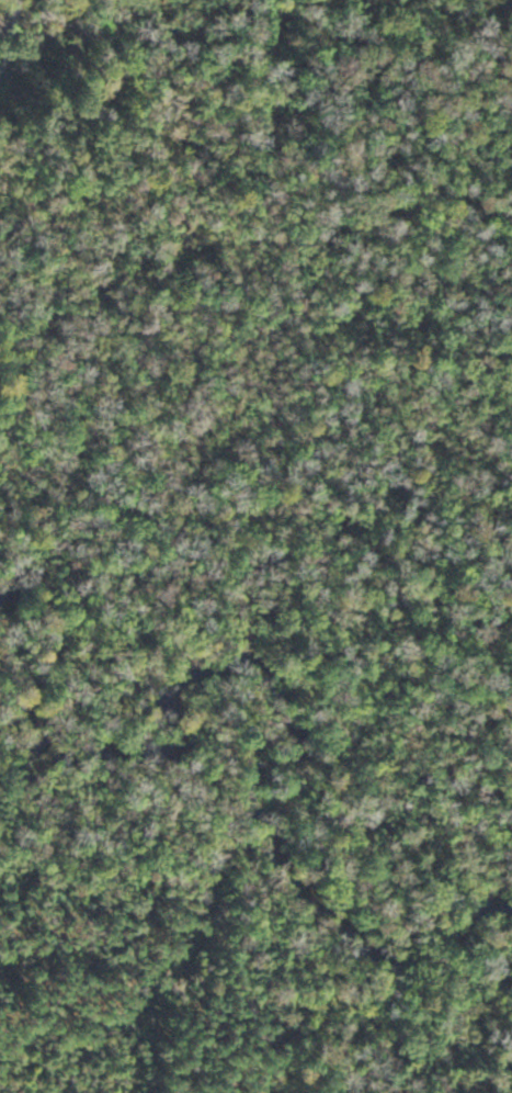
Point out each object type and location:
river: (260, 765)

